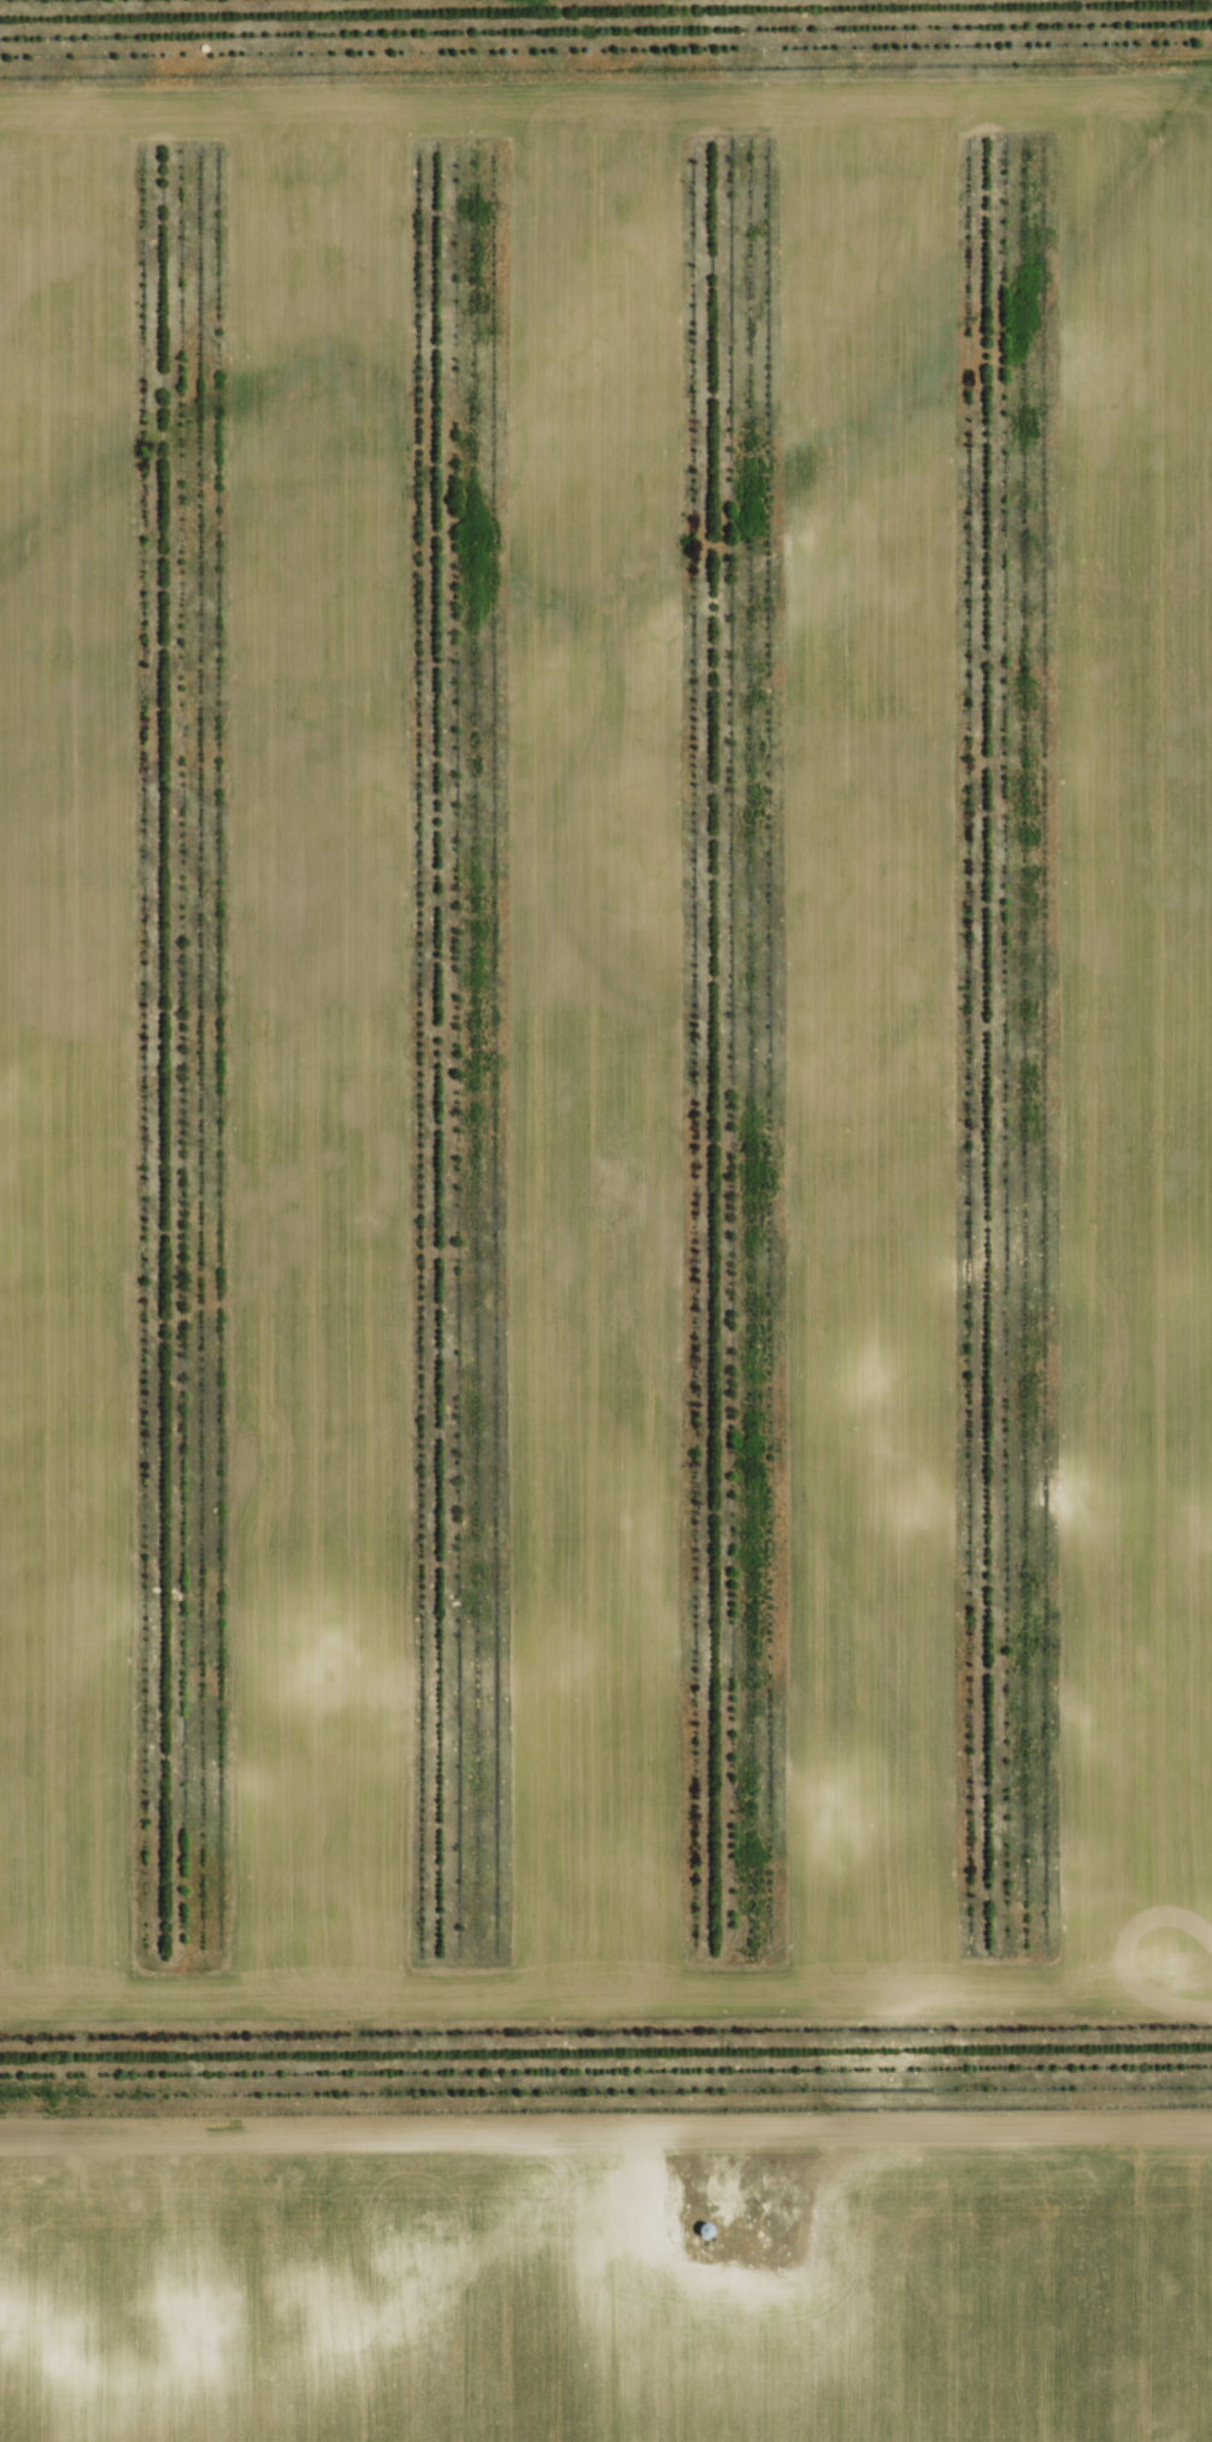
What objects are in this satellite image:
building: (698, 2226)

